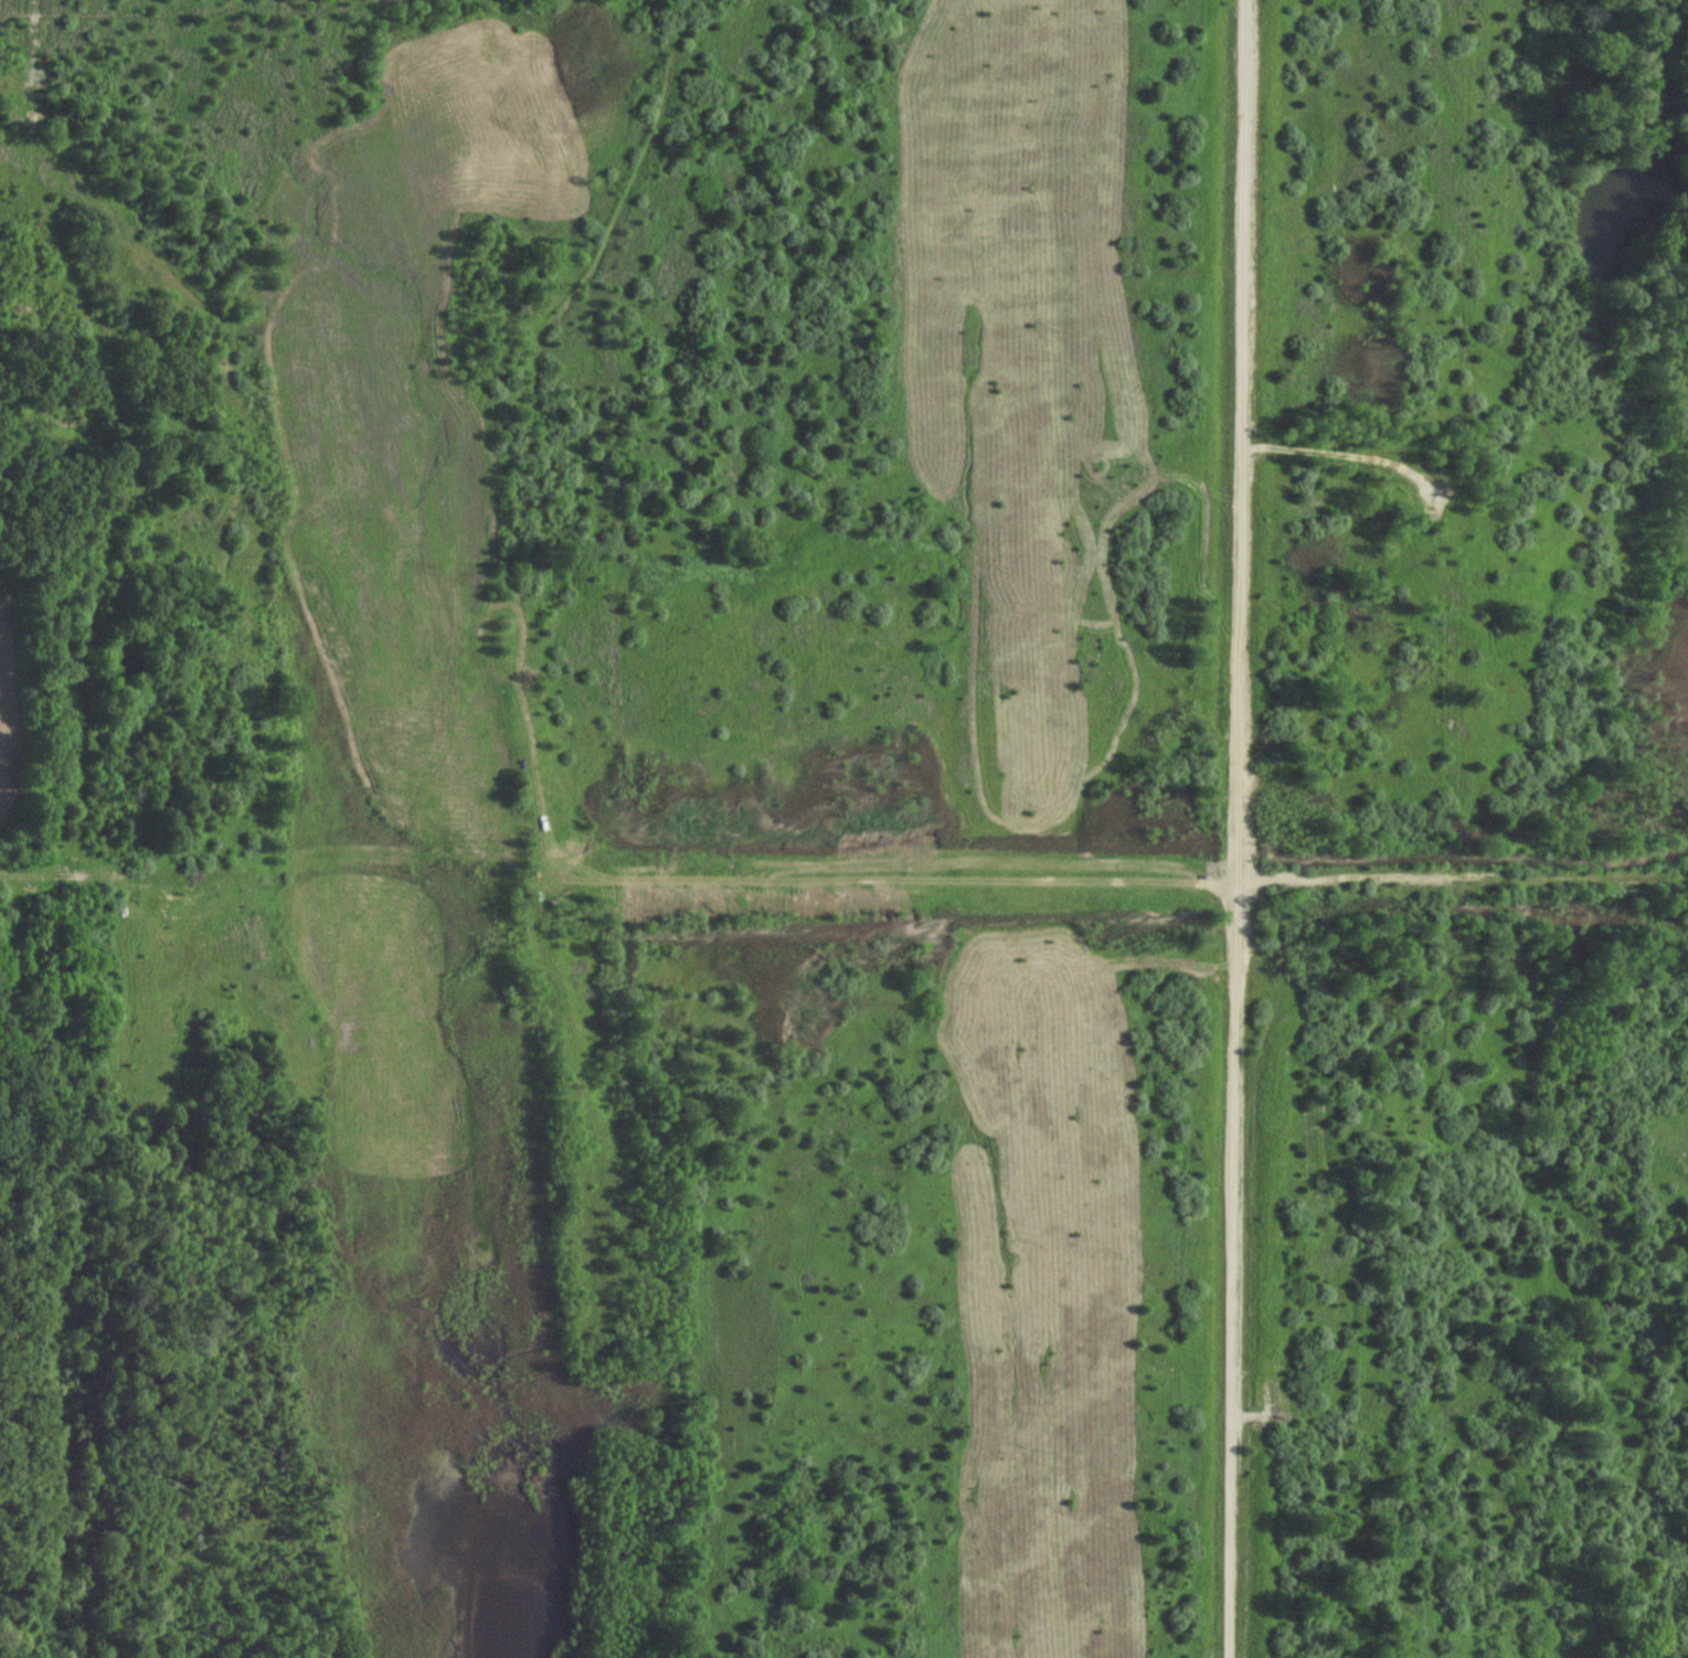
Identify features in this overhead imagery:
road: (1229, 828)
road: (1457, 889)

